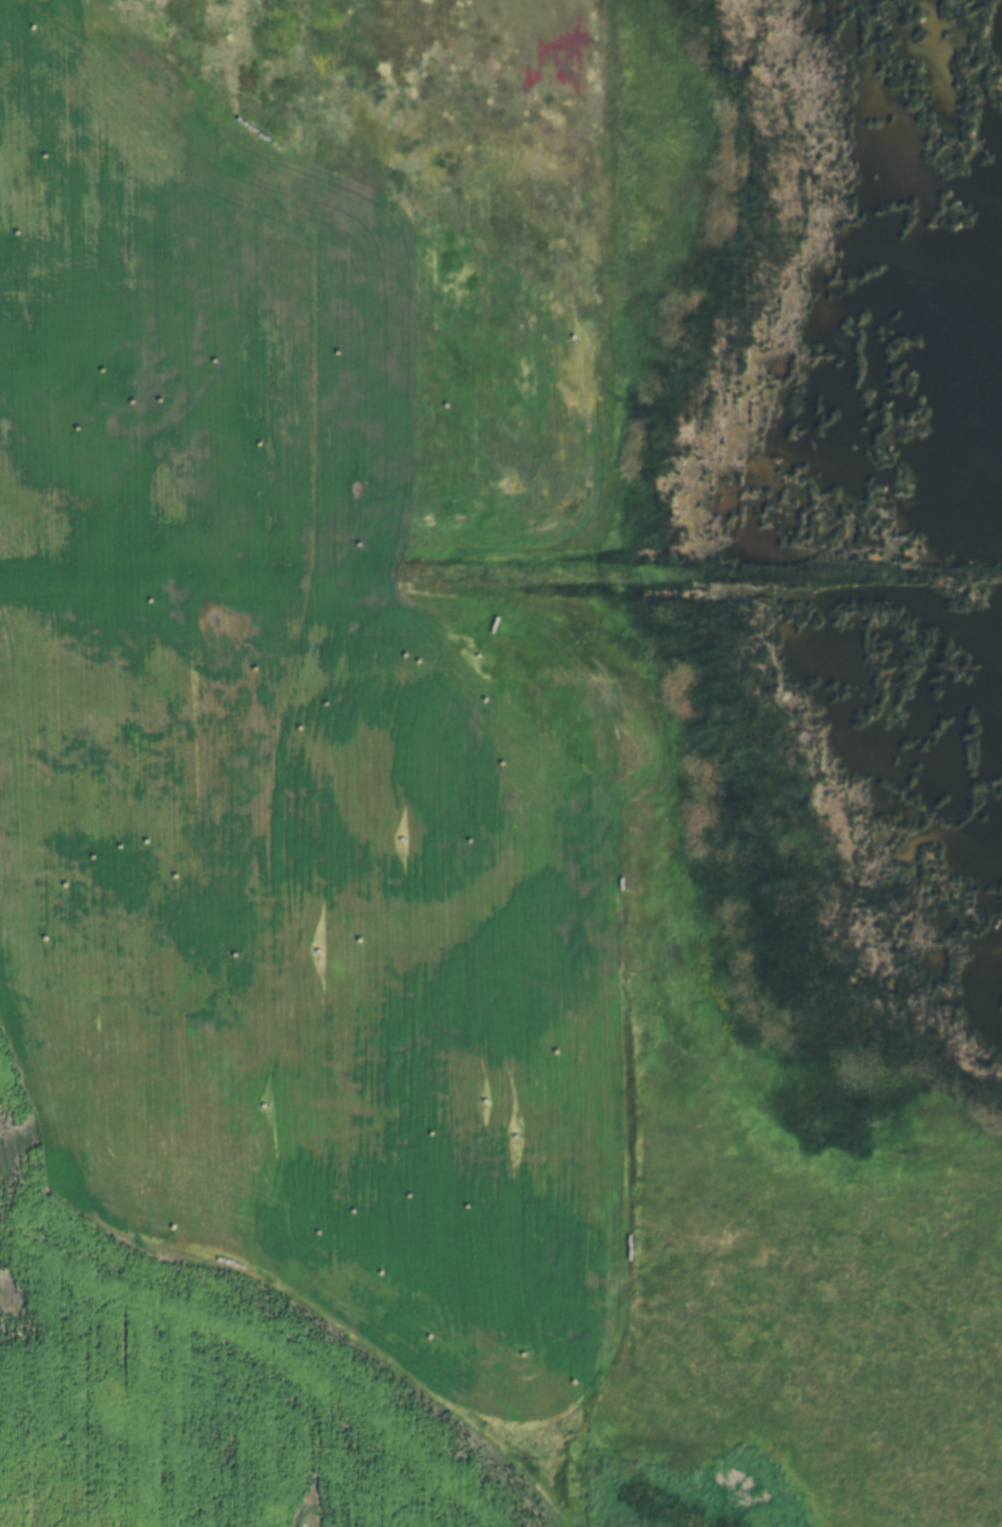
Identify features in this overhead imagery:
road: (812, 1218)

